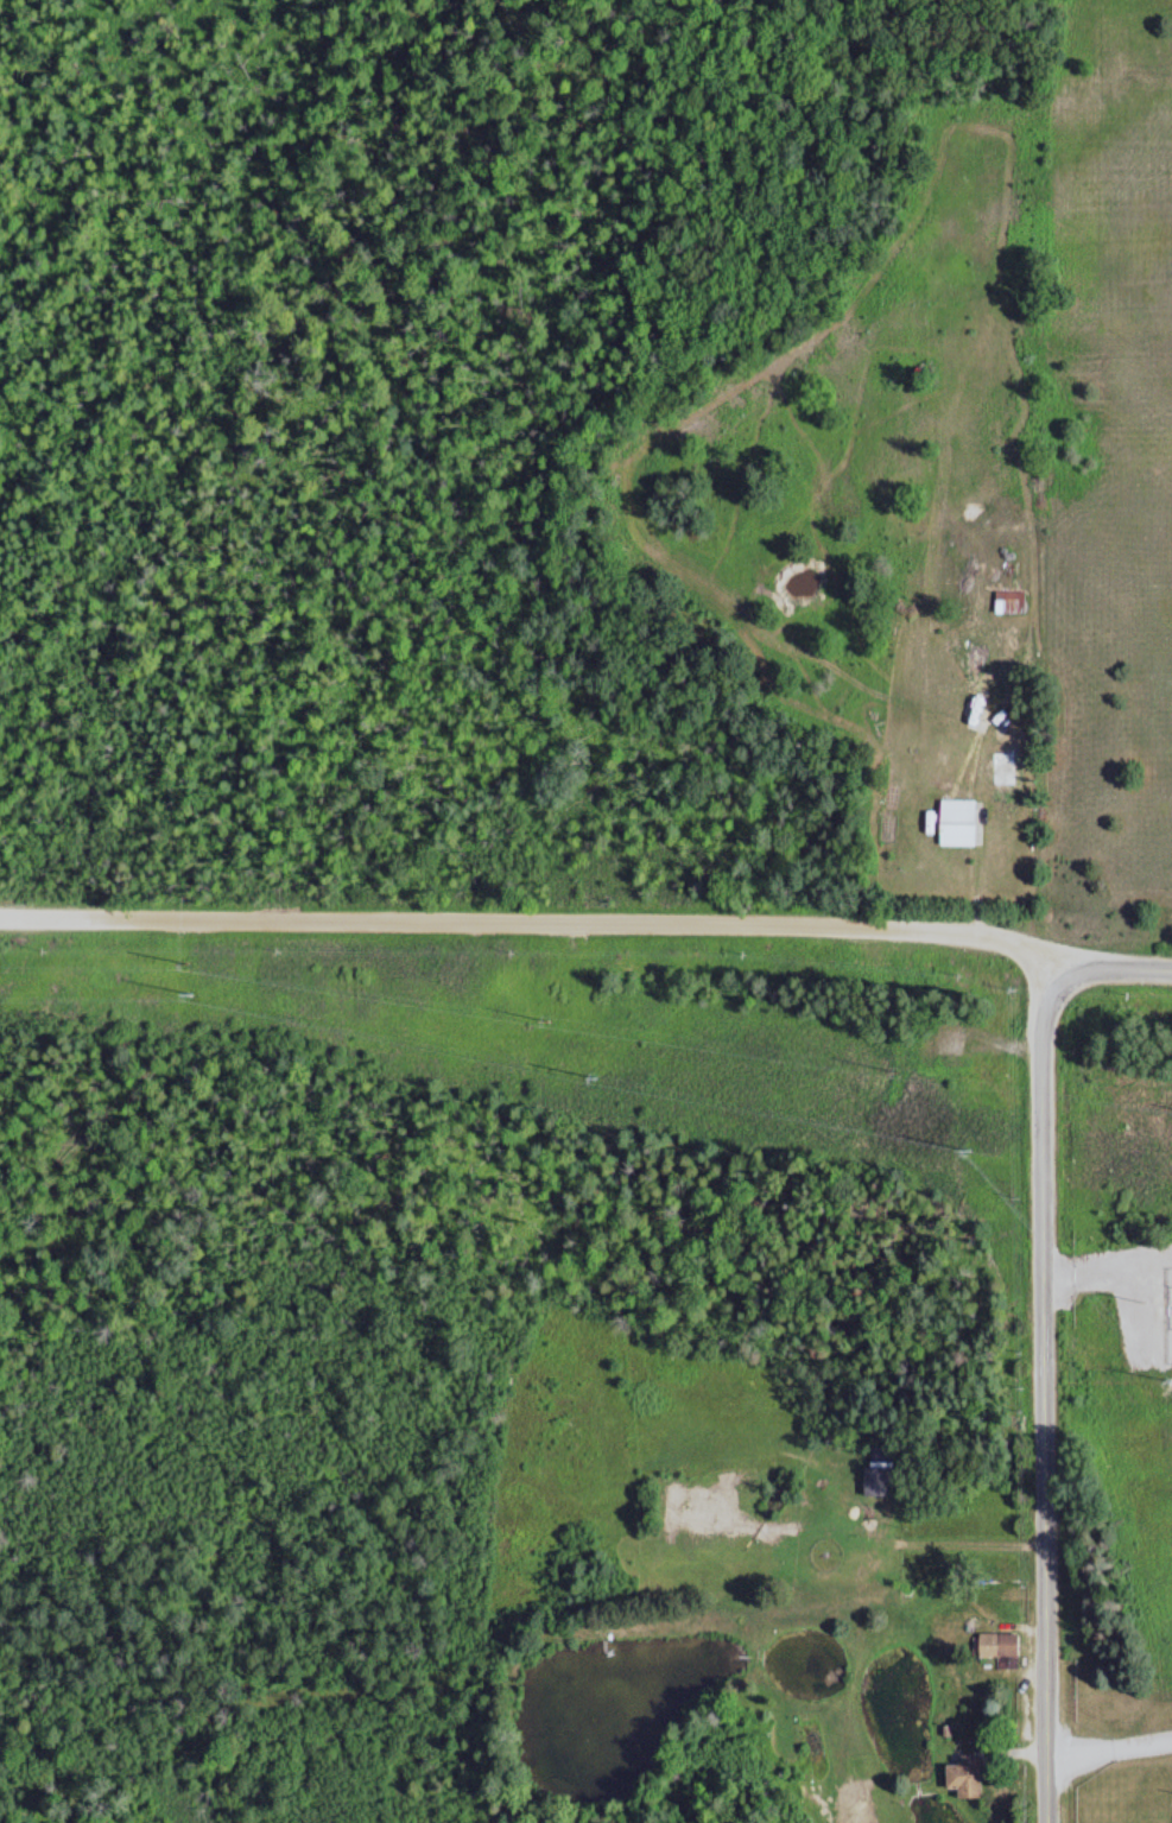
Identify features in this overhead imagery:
building: (1013, 601)
building: (1011, 765)
building: (963, 822)
road: (539, 923)
road: (1116, 968)
road: (1145, 1262)
road: (1108, 1270)
road: (1151, 1306)
power substation: (1171, 1314)
road: (1045, 1400)
building: (883, 1477)
building: (1005, 1645)
road: (1144, 1743)
road: (1082, 1753)
building: (971, 1778)
building: (863, 1803)

